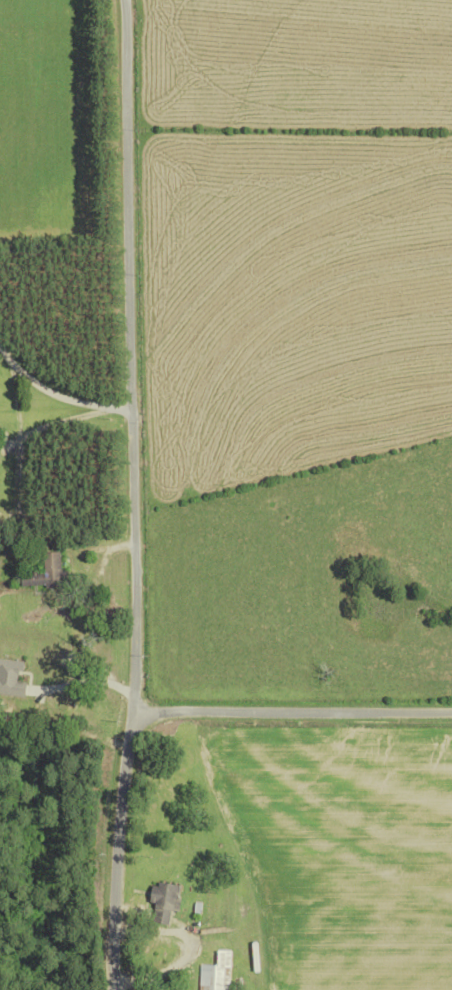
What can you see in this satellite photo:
road: (72, 407)
road: (143, 494)
building: (50, 573)
road: (87, 679)
road: (295, 731)
road: (351, 855)
building: (168, 903)
building: (218, 974)

